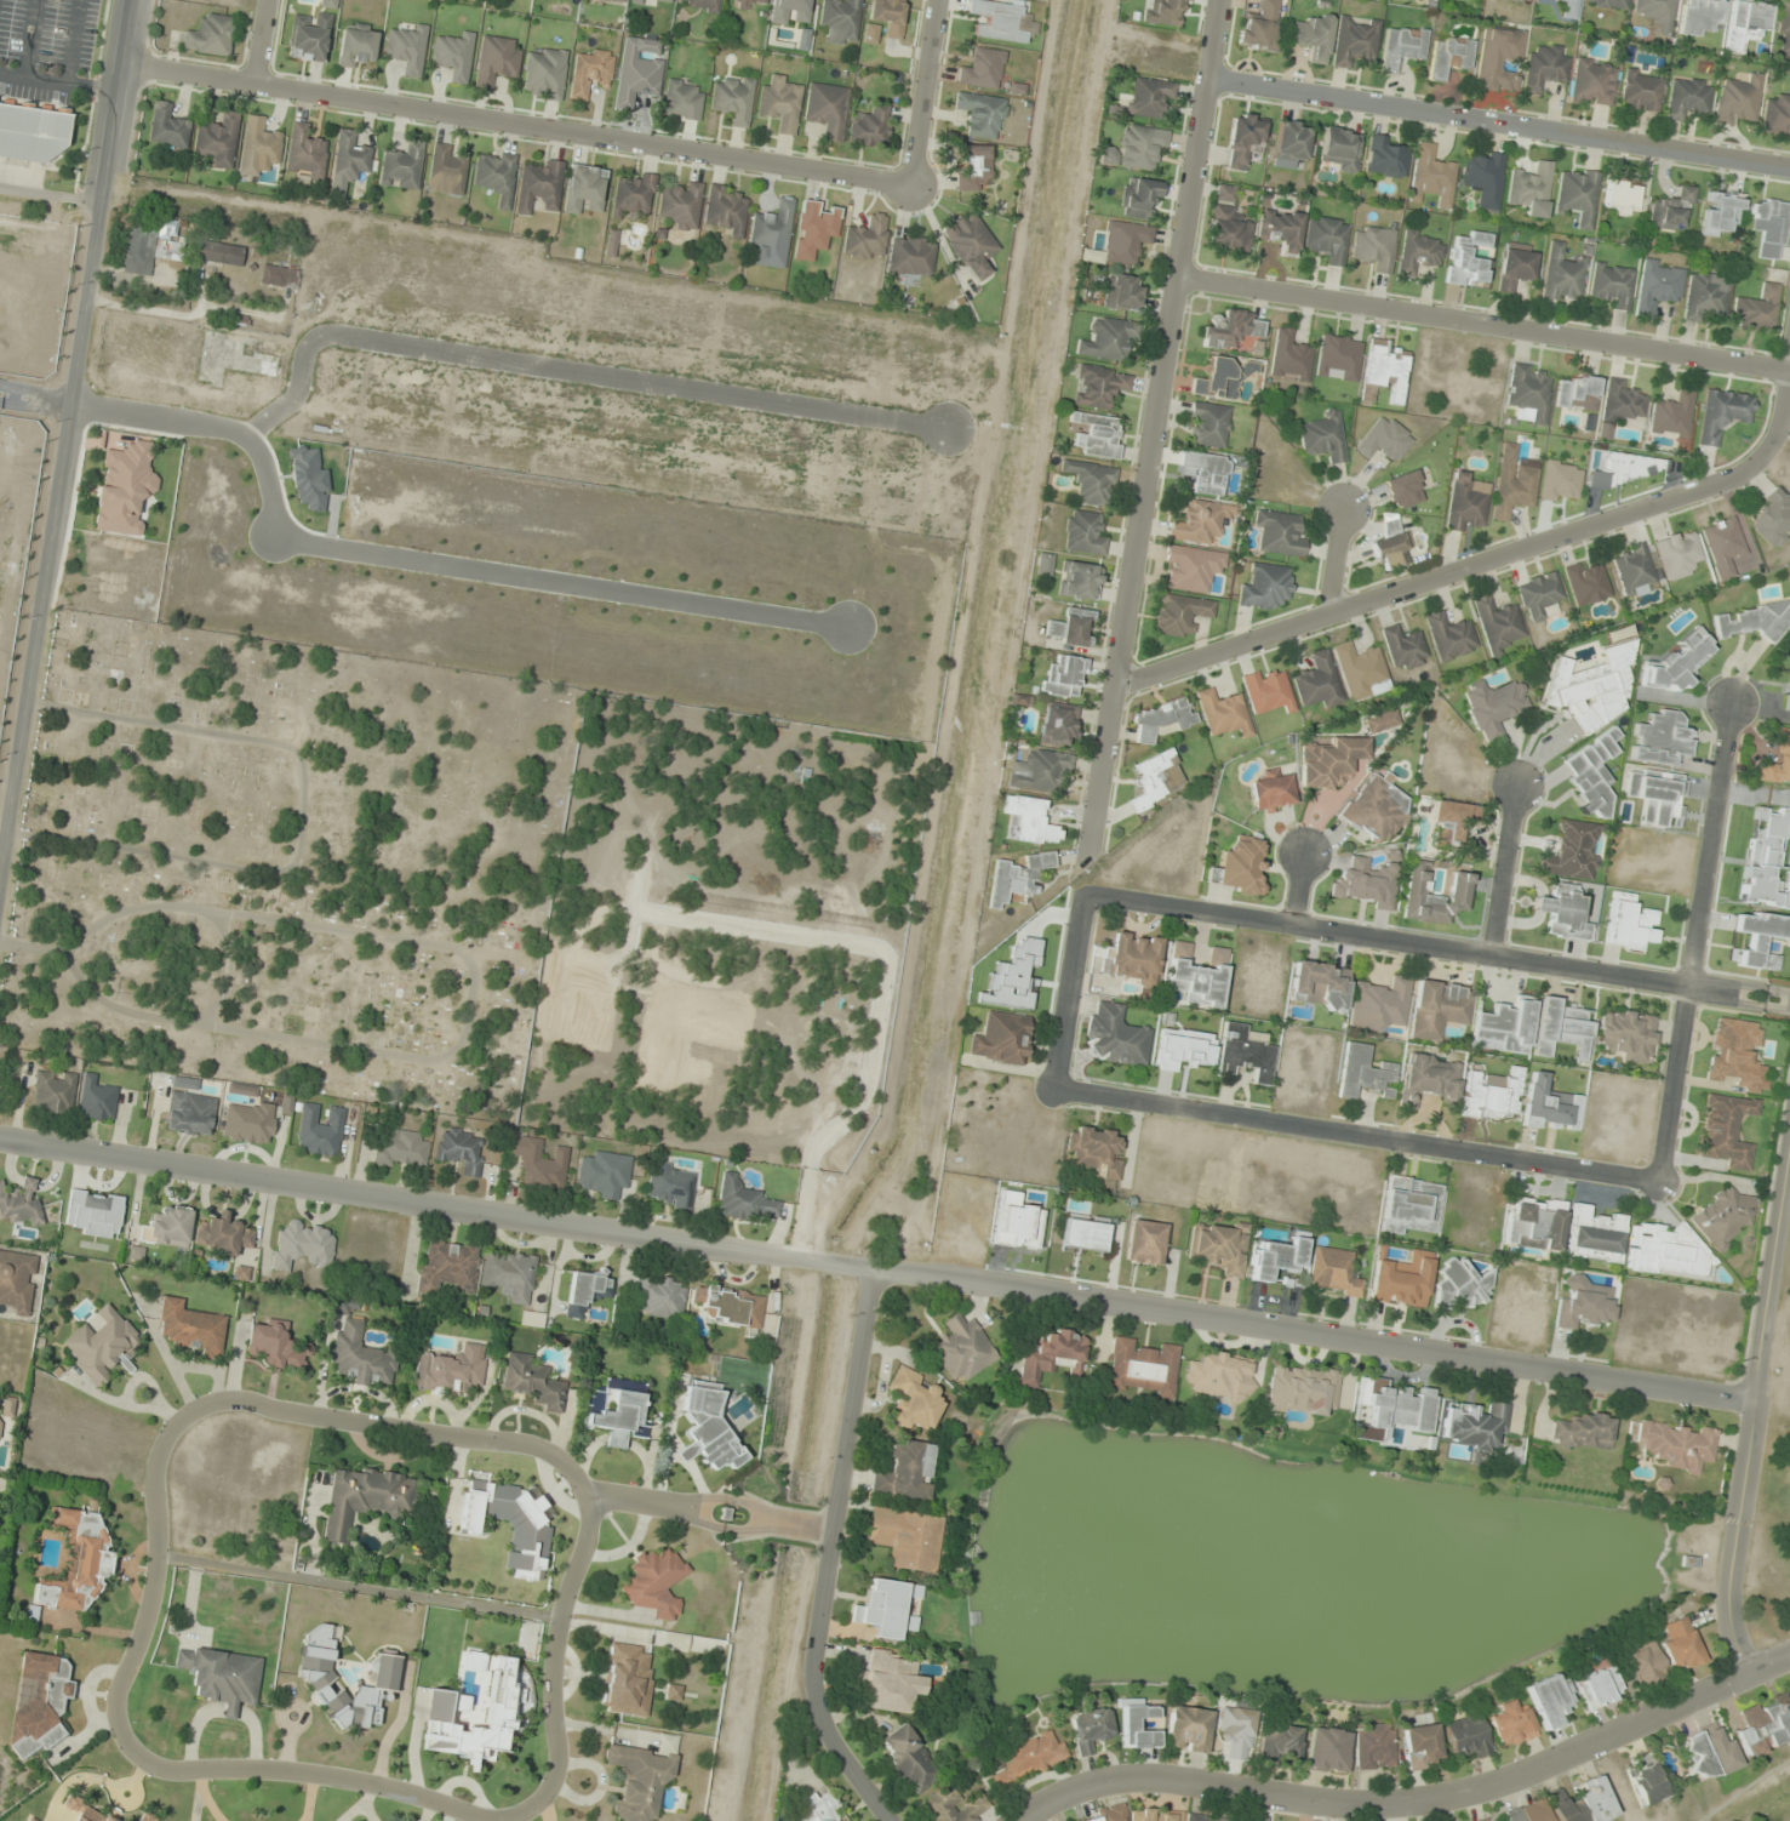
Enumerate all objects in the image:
building: (617, 0)
building: (665, 0)
building: (1523, 0)
building: (745, 2)
building: (704, 5)
building: (1568, 7)
building: (1653, 10)
building: (790, 11)
building: (1166, 12)
building: (1700, 16)
building: (885, 18)
building: (840, 19)
building: (1001, 21)
building: (1746, 23)
building: (1262, 27)
building: (1784, 29)
building: (210, 35)
building: (1311, 36)
building: (309, 38)
building: (802, 38)
building: (1355, 39)
road: (259, 41)
building: (356, 45)
building: (1402, 45)
building: (407, 48)
building: (453, 56)
building: (1448, 56)
building: (1498, 58)
building: (496, 59)
building: (1545, 67)
building: (983, 69)
building: (637, 72)
building: (545, 73)
building: (590, 73)
building: (1592, 82)
road: (923, 91)
building: (1641, 91)
building: (1149, 97)
building: (734, 98)
building: (1687, 98)
building: (682, 99)
building: (1738, 99)
building: (780, 103)
building: (827, 108)
building: (982, 114)
building: (1775, 115)
road: (1498, 120)
road: (514, 122)
building: (870, 126)
building: (167, 127)
building: (33, 131)
building: (217, 139)
building: (1245, 139)
building: (1292, 142)
building: (258, 147)
building: (1136, 148)
building: (1342, 149)
building: (304, 153)
building: (350, 155)
building: (1385, 158)
building: (402, 165)
building: (973, 165)
building: (446, 171)
building: (496, 176)
building: (1431, 176)
building: (1483, 177)
building: (539, 187)
building: (1531, 188)
building: (584, 189)
building: (634, 194)
road: (50, 195)
building: (1577, 195)
building: (1620, 196)
building: (1139, 199)
building: (681, 206)
building: (726, 210)
building: (1671, 211)
building: (1722, 212)
building: (1769, 226)
building: (814, 228)
building: (1229, 229)
building: (1281, 229)
building: (772, 234)
building: (865, 239)
building: (1327, 239)
building: (970, 242)
building: (1126, 242)
building: (150, 246)
building: (1374, 247)
building: (1419, 252)
building: (219, 253)
building: (910, 257)
building: (1466, 259)
building: (1515, 269)
building: (1562, 275)
building: (280, 276)
building: (1612, 284)
building: (1657, 285)
building: (1122, 292)
building: (1704, 296)
building: (1757, 309)
road: (1482, 322)
building: (1230, 329)
building: (1108, 338)
building: (1289, 356)
building: (1338, 358)
road: (567, 365)
building: (1385, 369)
building: (1223, 378)
building: (1099, 387)
building: (1528, 393)
building: (1578, 393)
building: (1620, 407)
building: (1722, 415)
building: (1672, 416)
building: (1208, 424)
road: (1153, 428)
road: (65, 430)
building: (1097, 435)
building: (1323, 436)
building: (1385, 439)
building: (319, 463)
building: (1202, 472)
building: (1092, 481)
building: (1512, 484)
building: (124, 486)
building: (1405, 490)
building: (1466, 503)
building: (1774, 516)
building: (1200, 521)
building: (1083, 532)
building: (1280, 532)
building: (1725, 546)
building: (1391, 547)
building: (1680, 554)
road: (422, 556)
road: (1483, 559)
road: (1333, 563)
building: (1045, 564)
building: (1191, 567)
building: (1635, 570)
building: (1079, 581)
building: (1588, 583)
building: (1268, 587)
building: (1540, 595)
building: (1180, 613)
building: (1755, 621)
building: (1498, 623)
building: (1073, 627)
building: (1449, 635)
building: (1405, 646)
building: (1679, 662)
building: (1362, 670)
building: (1063, 675)
building: (1788, 678)
building: (1319, 681)
building: (1590, 687)
building: (1270, 691)
building: (1494, 706)
building: (1224, 713)
building: (1161, 719)
building: (1382, 721)
building: (1058, 724)
building: (1660, 738)
building: (1778, 760)
building: (1331, 761)
building: (1037, 770)
building: (1591, 772)
building: (1154, 778)
building: (1273, 789)
building: (1655, 795)
building: (1376, 809)
road: (301, 817)
building: (1029, 821)
building: (1453, 822)
building: (1572, 851)
park: (287, 864)
building: (1240, 866)
road: (1502, 868)
building: (1017, 878)
building: (1367, 883)
building: (1417, 884)
road: (1300, 887)
building: (1563, 912)
building: (1629, 926)
building: (1760, 940)
road: (1695, 941)
road: (1436, 946)
road: (33, 947)
building: (1132, 958)
road: (229, 970)
building: (1197, 975)
building: (1319, 983)
road: (1066, 988)
road: (470, 1004)
building: (1379, 1004)
building: (1439, 1009)
building: (1506, 1026)
building: (1628, 1034)
building: (1115, 1037)
building: (1001, 1039)
building: (1183, 1049)
building: (1246, 1052)
building: (1735, 1055)
building: (1365, 1073)
building: (1429, 1079)
building: (53, 1091)
building: (1492, 1095)
building: (96, 1100)
building: (189, 1108)
building: (248, 1121)
building: (319, 1130)
building: (1726, 1130)
road: (1355, 1134)
building: (402, 1148)
building: (1096, 1149)
building: (459, 1151)
building: (543, 1168)
building: (604, 1174)
building: (671, 1186)
building: (744, 1200)
building: (21, 1201)
building: (1411, 1204)
building: (1722, 1216)
building: (1534, 1223)
building: (167, 1227)
building: (1083, 1233)
building: (222, 1234)
building: (1594, 1234)
building: (1145, 1241)
building: (302, 1245)
building: (1220, 1248)
building: (1668, 1250)
building: (1279, 1258)
building: (447, 1266)
road: (876, 1266)
building: (1333, 1272)
building: (240, 1273)
building: (510, 1274)
building: (1402, 1279)
building: (17, 1280)
building: (1463, 1285)
building: (585, 1292)
building: (658, 1297)
building: (1583, 1303)
building: (731, 1306)
building: (190, 1328)
building: (102, 1345)
building: (275, 1346)
building: (961, 1348)
building: (359, 1349)
building: (1051, 1355)
building: (1143, 1368)
building: (451, 1369)
building: (1220, 1376)
building: (531, 1382)
building: (1302, 1389)
building: (913, 1400)
building: (1391, 1408)
building: (613, 1414)
road: (1750, 1415)
building: (0, 1422)
building: (1475, 1425)
building: (707, 1427)
building: (1583, 1431)
building: (1677, 1445)
building: (904, 1472)
building: (365, 1499)
road: (708, 1509)
building: (907, 1539)
road: (828, 1552)
building: (78, 1560)
building: (654, 1582)
building: (887, 1609)
road: (136, 1640)
building: (1680, 1644)
building: (1643, 1662)
building: (315, 1673)
building: (221, 1677)
building: (625, 1679)
building: (887, 1682)
building: (1597, 1685)
building: (673, 1692)
building: (1549, 1699)
building: (41, 1701)
building: (473, 1716)
building: (1511, 1724)
building: (1765, 1725)
building: (1139, 1726)
building: (1091, 1728)
building: (1186, 1729)
building: (1236, 1731)
building: (1468, 1736)
building: (1280, 1743)
building: (1373, 1746)
building: (1420, 1746)
building: (1326, 1749)
building: (1709, 1751)
building: (908, 1758)
building: (1030, 1758)
building: (641, 1777)
building: (1646, 1780)
road: (1413, 1803)
building: (1567, 1805)
building: (955, 1806)
building: (818, 1808)
building: (85, 1811)
building: (1123, 1814)
building: (1169, 1815)
building: (1197, 1816)
building: (145, 1817)
building: (1253, 1817)
building: (29, 1819)
building: (1481, 1820)

